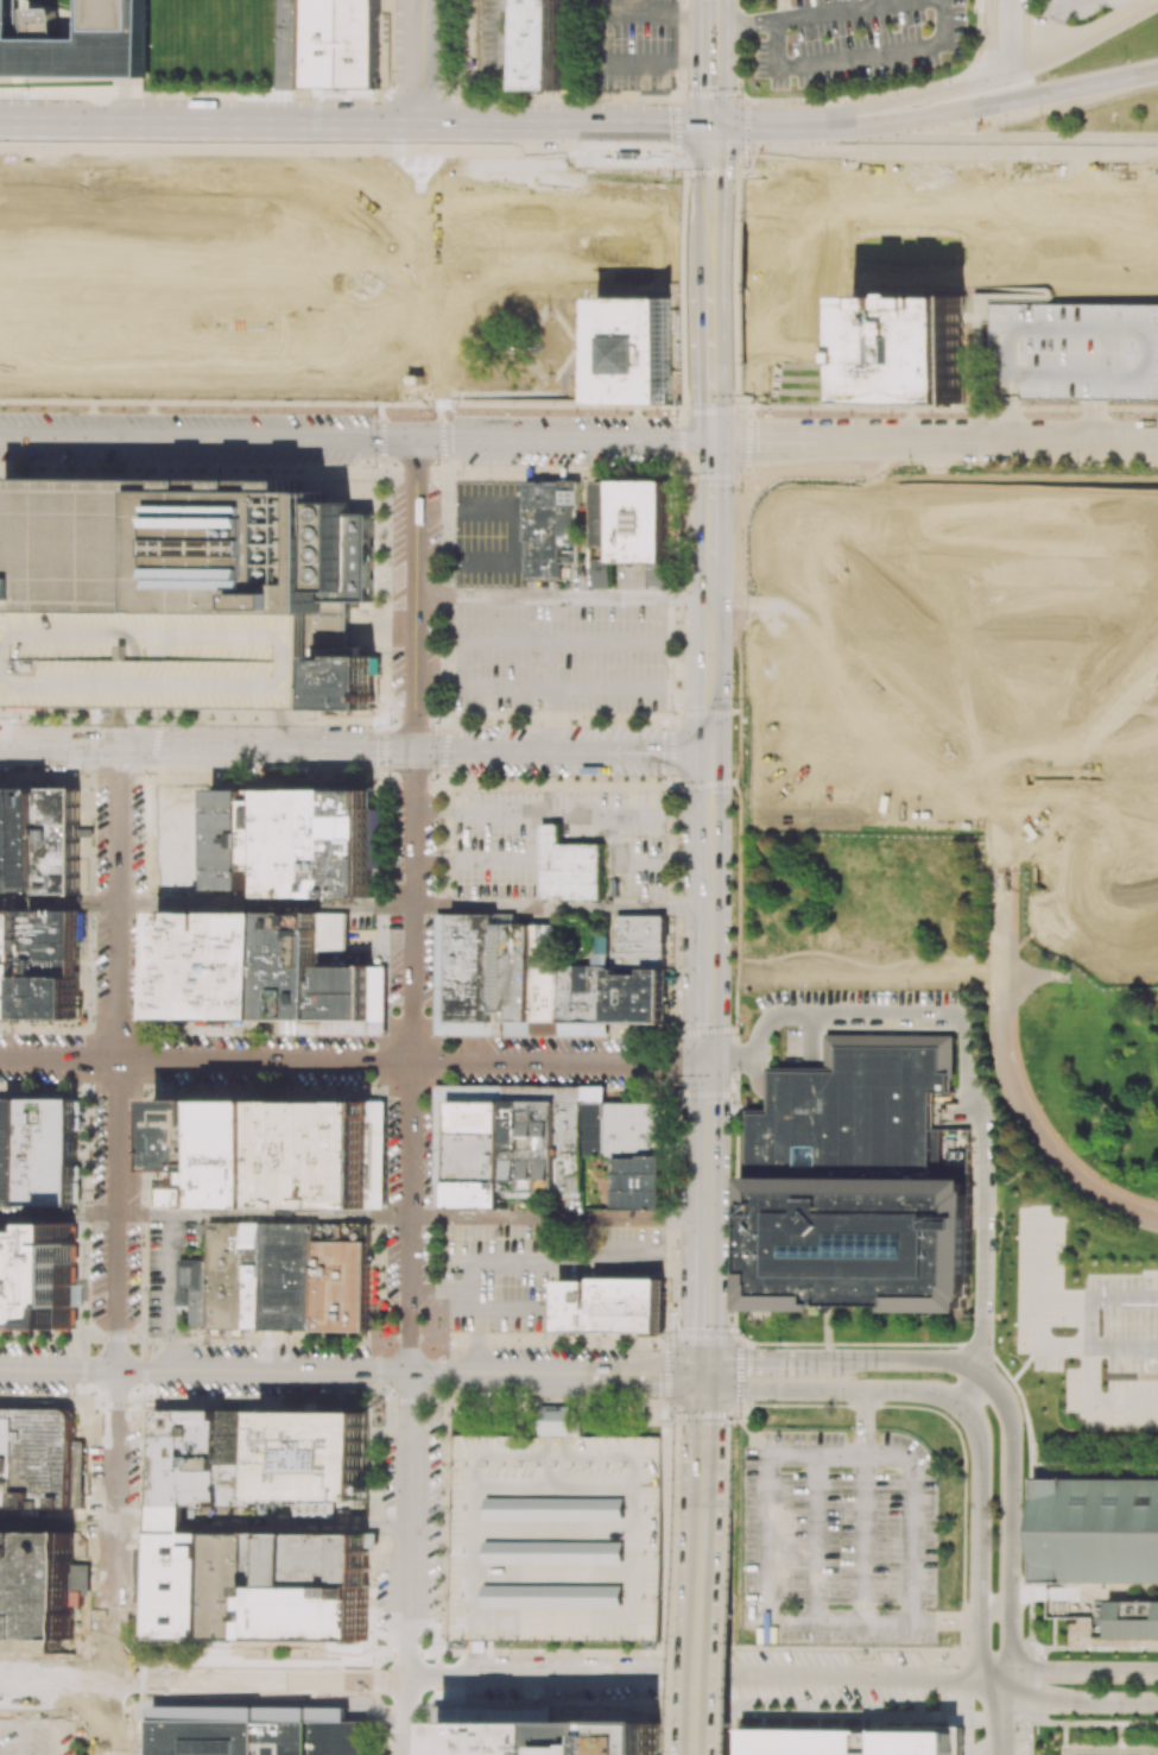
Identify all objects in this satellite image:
road: (875, 4)
road: (783, 5)
parking lot: (1078, 10)
road: (849, 13)
road: (650, 14)
parking lot: (1004, 24)
road: (743, 26)
road: (1008, 37)
road: (1081, 38)
building: (77, 42)
parking lot: (496, 42)
parking lot: (854, 42)
building: (335, 45)
building: (549, 46)
parking lot: (626, 48)
road: (861, 57)
road: (650, 59)
street lamp: (1128, 61)
road: (418, 64)
road: (713, 65)
street lamp: (673, 88)
street lamp: (741, 96)
road: (676, 99)
street lamp: (828, 101)
road: (901, 102)
road: (977, 107)
street lamp: (1043, 119)
road: (209, 127)
road: (564, 130)
traffic signals: (713, 131)
road: (754, 131)
road: (976, 141)
road: (713, 156)
street lamp: (749, 166)
road: (714, 170)
road: (760, 170)
road: (686, 173)
road: (740, 175)
street lamp: (673, 177)
road: (713, 213)
park: (923, 253)
road: (713, 265)
park: (321, 279)
road: (417, 284)
road: (685, 290)
road: (739, 291)
road: (713, 297)
building: (910, 349)
building: (633, 351)
building: (1074, 352)
parking lot: (1074, 352)
road: (711, 356)
road: (739, 404)
road: (948, 409)
road: (711, 410)
road: (683, 415)
road: (711, 422)
road: (1011, 425)
road: (185, 437)
traffic signals: (416, 438)
road: (417, 438)
road: (572, 440)
road: (748, 440)
road: (682, 441)
road: (696, 441)
traffic signals: (711, 441)
road: (770, 441)
road: (849, 441)
road: (890, 441)
road: (1033, 442)
road: (679, 465)
road: (710, 474)
road: (710, 504)
road: (434, 505)
building: (644, 520)
building: (588, 522)
road: (520, 526)
building: (551, 526)
parking lot: (489, 532)
building: (606, 532)
building: (177, 547)
building: (363, 564)
building: (1108, 564)
building: (662, 575)
road: (415, 594)
road: (676, 594)
road: (562, 601)
road: (381, 629)
road: (543, 639)
parking lot: (558, 656)
road: (709, 659)
building: (169, 661)
parking garage: (169, 661)
road: (670, 665)
building: (349, 669)
road: (432, 673)
road: (552, 688)
road: (670, 693)
building: (1064, 693)
road: (550, 695)
road: (689, 696)
building: (349, 701)
road: (691, 714)
road: (277, 731)
road: (153, 749)
road: (360, 750)
road: (507, 751)
road: (673, 751)
road: (654, 752)
traffic signals: (708, 752)
building: (1147, 777)
road: (690, 784)
road: (708, 784)
road: (559, 814)
building: (255, 828)
building: (228, 838)
building: (31, 839)
building: (6, 840)
building: (65, 842)
building: (280, 842)
building: (335, 842)
road: (494, 857)
road: (638, 859)
building: (570, 866)
parking lot: (496, 870)
building: (198, 875)
road: (88, 891)
road: (59, 901)
road: (119, 904)
road: (266, 904)
road: (412, 905)
road: (559, 907)
road: (671, 910)
building: (1121, 922)
building: (53, 928)
road: (707, 940)
building: (639, 943)
building: (53, 953)
building: (5, 964)
building: (18, 964)
road: (862, 964)
building: (182, 965)
building: (219, 965)
building: (255, 965)
building: (299, 965)
building: (475, 967)
building: (504, 967)
building: (53, 970)
building: (520, 972)
building: (545, 972)
road: (736, 972)
building: (352, 992)
building: (584, 995)
building: (638, 996)
building: (53, 998)
road: (735, 1006)
road: (815, 1014)
parking lot: (854, 1016)
road: (705, 1030)
road: (84, 1059)
road: (352, 1061)
road: (684, 1063)
traffic signals: (705, 1063)
road: (709, 1094)
road: (705, 1110)
road: (1024, 1119)
building: (51, 1126)
building: (596, 1129)
building: (635, 1131)
road: (1018, 1131)
road: (1046, 1134)
building: (534, 1144)
road: (82, 1149)
building: (5, 1150)
building: (571, 1150)
building: (19, 1151)
building: (188, 1151)
building: (247, 1153)
building: (300, 1153)
building: (353, 1153)
building: (481, 1154)
building: (51, 1180)
building: (640, 1183)
road: (734, 1183)
building: (859, 1186)
road: (986, 1191)
road: (58, 1212)
road: (704, 1212)
road: (264, 1216)
road: (411, 1217)
road: (675, 1217)
road: (557, 1218)
road: (548, 1257)
building: (6, 1260)
parking lot: (533, 1265)
parking lot: (170, 1267)
building: (255, 1275)
building: (227, 1276)
building: (291, 1276)
building: (42, 1282)
building: (344, 1286)
building: (194, 1288)
road: (441, 1289)
road: (116, 1290)
road: (472, 1299)
road: (1097, 1301)
building: (614, 1305)
road: (1038, 1305)
road: (501, 1307)
road: (704, 1321)
parking lot: (1084, 1326)
road: (702, 1338)
road: (844, 1344)
road: (1122, 1349)
road: (843, 1359)
road: (352, 1370)
traffic signals: (704, 1374)
road: (1087, 1387)
road: (834, 1389)
road: (558, 1390)
road: (973, 1393)
road: (704, 1400)
road: (863, 1422)
building: (318, 1454)
building: (176, 1457)
building: (36, 1458)
building: (211, 1458)
building: (248, 1459)
road: (703, 1494)
road: (133, 1522)
road: (170, 1522)
road: (299, 1523)
road: (1011, 1523)
building: (1097, 1529)
building: (556, 1536)
road: (815, 1536)
road: (863, 1536)
parking lot: (839, 1540)
road: (977, 1547)
road: (407, 1563)
building: (13, 1584)
building: (55, 1585)
building: (185, 1585)
building: (234, 1586)
building: (316, 1611)
road: (994, 1611)
road: (812, 1617)
building: (1134, 1618)
road: (944, 1620)
road: (115, 1639)
road: (702, 1658)
road: (477, 1661)
road: (1078, 1672)
road: (57, 1680)
road: (261, 1681)
road: (673, 1681)
road: (970, 1681)
road: (1077, 1698)
road: (1000, 1717)
building: (852, 1735)
building: (260, 1737)
building: (561, 1738)
parking lot: (1108, 1749)

